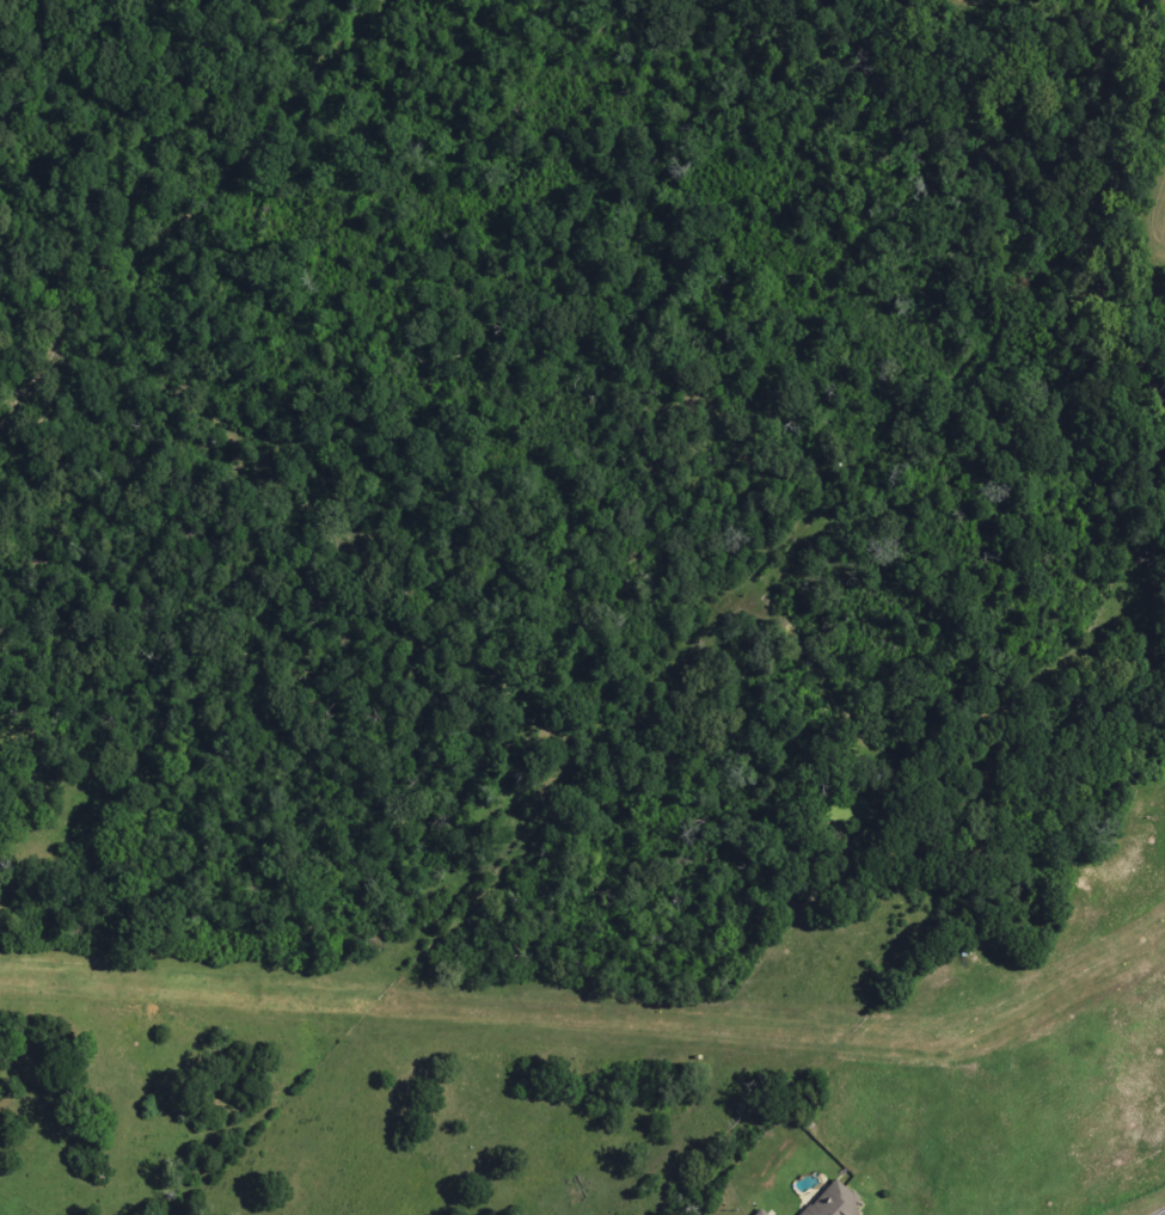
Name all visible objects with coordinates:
building: (758, 1213)

